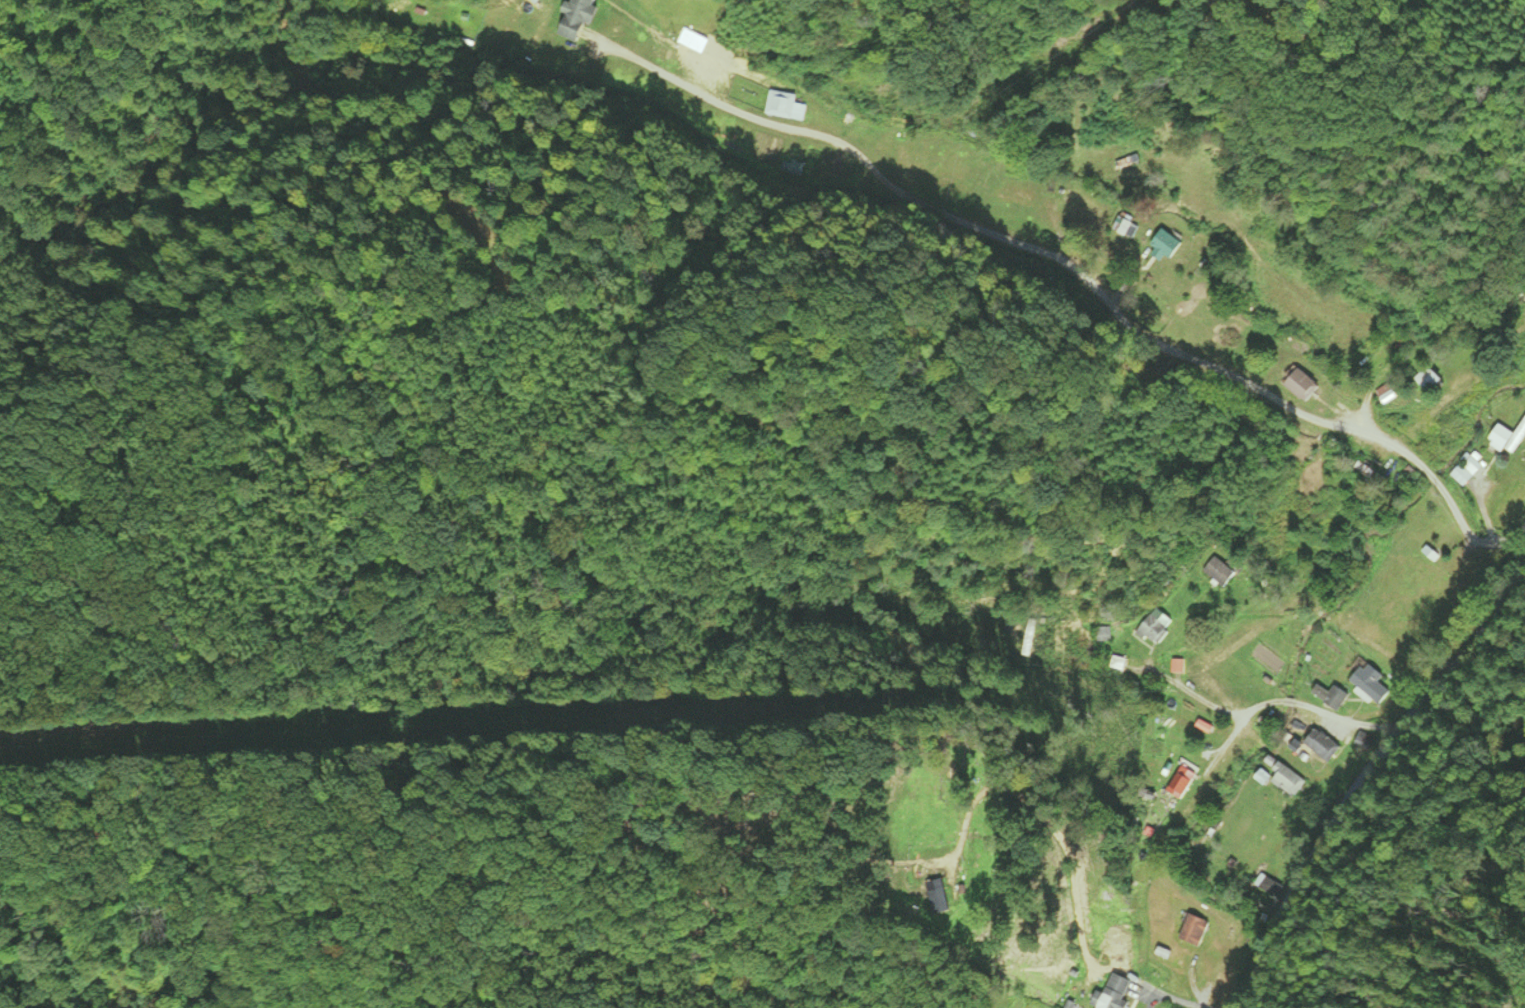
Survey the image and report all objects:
building: (583, 20)
building: (785, 105)
building: (1129, 227)
building: (1173, 246)
road: (1080, 274)
building: (1523, 300)
building: (1423, 379)
building: (1306, 385)
building: (1385, 397)
building: (1508, 437)
building: (1429, 554)
building: (1223, 572)
building: (1159, 627)
building: (1105, 635)
building: (1120, 664)
building: (1368, 684)
building: (1331, 697)
road: (1262, 705)
road: (1224, 740)
building: (1320, 745)
building: (1282, 777)
road: (1360, 778)
building: (1186, 782)
building: (971, 890)
building: (946, 893)
building: (1191, 930)
building: (1120, 992)

